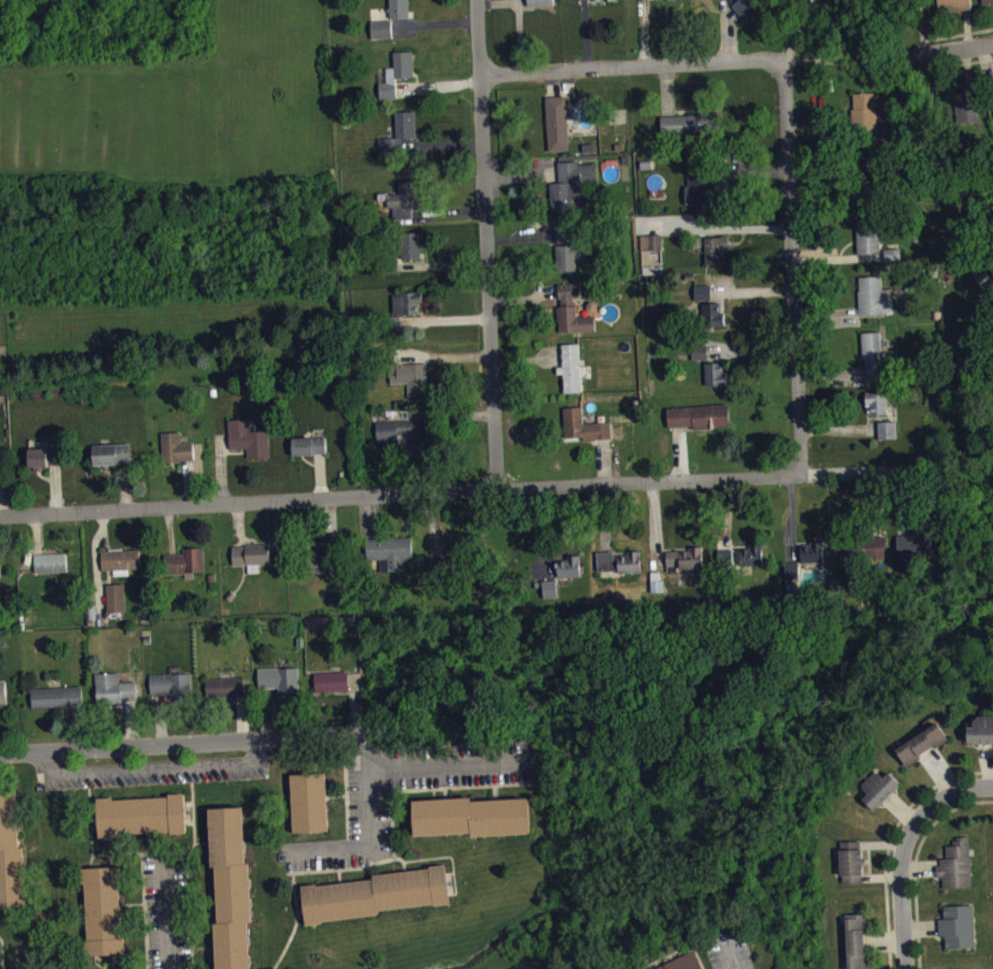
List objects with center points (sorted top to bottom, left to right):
building: (514, 0)
building: (667, 2)
building: (709, 2)
building: (605, 4)
building: (542, 6)
building: (398, 7)
building: (954, 8)
building: (747, 15)
road: (433, 21)
building: (379, 27)
building: (383, 36)
road: (893, 54)
road: (956, 56)
road: (858, 59)
road: (816, 60)
road: (631, 65)
building: (394, 72)
building: (992, 91)
building: (967, 112)
building: (866, 117)
building: (558, 130)
building: (690, 131)
building: (396, 133)
building: (868, 170)
building: (701, 190)
building: (572, 192)
building: (402, 198)
building: (564, 237)
building: (408, 243)
road: (485, 243)
building: (869, 243)
building: (652, 249)
building: (717, 256)
building: (894, 261)
building: (387, 263)
building: (570, 263)
road: (792, 266)
building: (704, 299)
building: (405, 302)
building: (876, 303)
building: (573, 317)
road: (443, 318)
building: (713, 321)
building: (387, 322)
road: (442, 356)
building: (385, 358)
building: (700, 358)
building: (875, 362)
building: (572, 375)
building: (410, 377)
building: (717, 381)
building: (878, 409)
building: (700, 423)
building: (585, 433)
building: (385, 434)
building: (247, 437)
building: (889, 437)
building: (306, 444)
building: (173, 446)
building: (109, 452)
building: (310, 452)
building: (2, 456)
building: (42, 456)
road: (456, 489)
building: (916, 552)
building: (392, 557)
building: (814, 559)
building: (864, 560)
building: (252, 561)
building: (50, 562)
building: (753, 562)
building: (322, 564)
building: (686, 566)
building: (122, 568)
building: (187, 568)
building: (620, 569)
building: (0, 572)
building: (571, 574)
building: (793, 577)
building: (657, 588)
building: (551, 596)
building: (117, 604)
building: (281, 686)
building: (333, 688)
building: (173, 692)
building: (226, 694)
building: (115, 696)
building: (4, 699)
building: (58, 704)
building: (982, 737)
road: (180, 744)
building: (923, 751)
road: (452, 766)
parking lot: (151, 772)
road: (345, 772)
road: (429, 788)
road: (368, 790)
road: (495, 791)
road: (445, 792)
road: (433, 793)
road: (337, 795)
building: (881, 795)
road: (188, 801)
building: (309, 801)
building: (141, 814)
parking lot: (369, 815)
building: (471, 815)
road: (346, 816)
road: (192, 820)
road: (189, 821)
road: (95, 824)
road: (148, 842)
road: (902, 849)
road: (140, 852)
road: (328, 852)
building: (11, 853)
road: (448, 856)
road: (110, 859)
road: (90, 860)
road: (333, 868)
building: (853, 869)
building: (957, 871)
road: (451, 872)
road: (340, 874)
building: (232, 888)
building: (377, 893)
road: (203, 894)
road: (299, 894)
road: (131, 902)
road: (189, 903)
building: (102, 909)
parking lot: (167, 910)
road: (168, 912)
road: (302, 912)
building: (959, 933)
road: (287, 943)
building: (857, 945)
road: (204, 947)
road: (732, 952)
road: (0, 954)
road: (113, 961)
road: (98, 962)
building: (689, 965)

